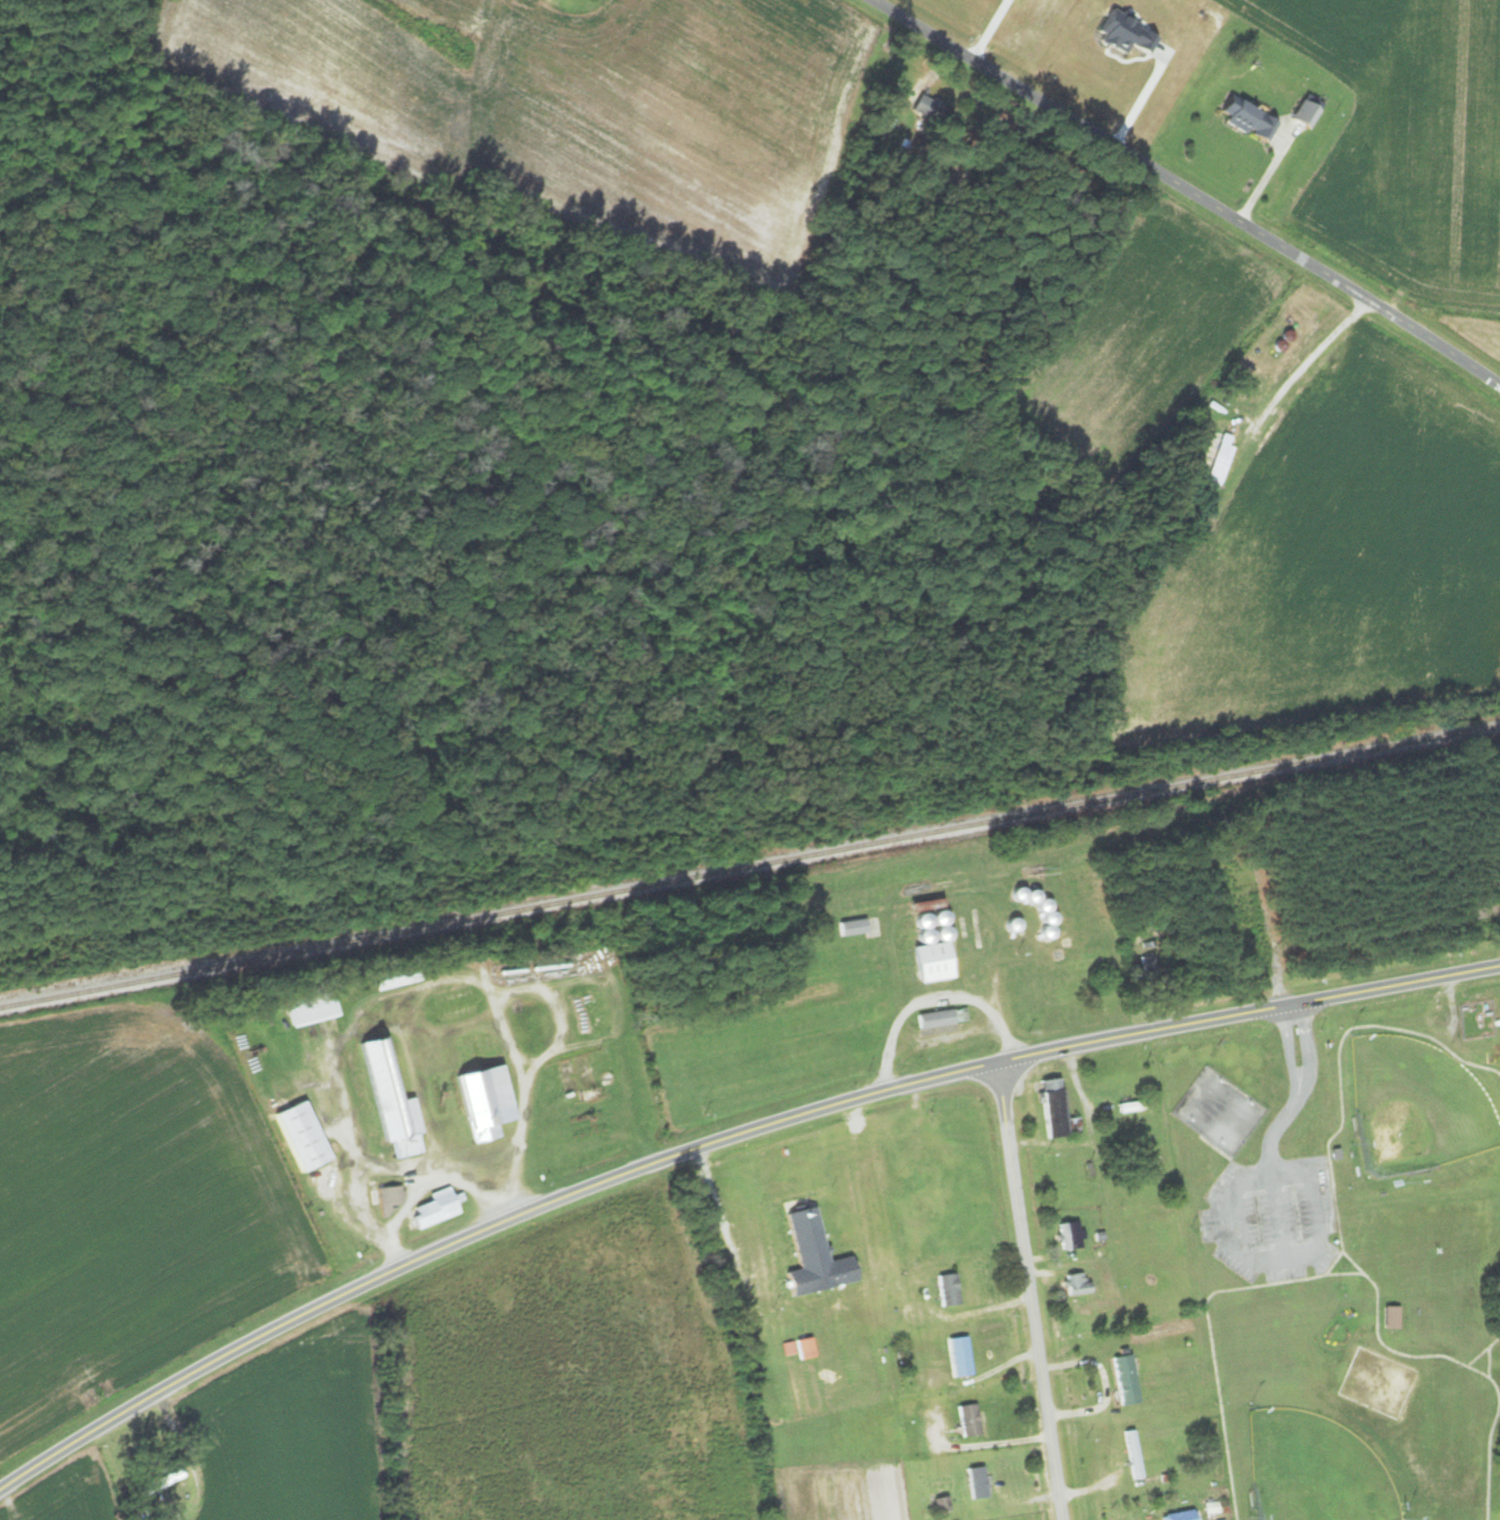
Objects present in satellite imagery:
building: (541, 0)
building: (925, 110)
building: (1297, 115)
building: (1241, 119)
road: (1181, 195)
building: (1213, 463)
railway: (750, 866)
building: (850, 927)
road: (1350, 930)
building: (1245, 950)
building: (923, 956)
building: (1143, 966)
building: (1084, 967)
road: (1348, 991)
building: (459, 1004)
building: (315, 1010)
building: (593, 1013)
road: (1161, 1025)
building: (536, 1029)
building: (480, 1050)
road: (1074, 1073)
building: (394, 1101)
building: (491, 1102)
building: (1127, 1107)
building: (1049, 1111)
building: (307, 1137)
building: (393, 1197)
road: (541, 1206)
building: (440, 1208)
building: (1139, 1210)
building: (1149, 1234)
building: (1063, 1237)
building: (805, 1257)
building: (1070, 1284)
road: (1029, 1289)
building: (942, 1291)
building: (794, 1349)
building: (954, 1357)
building: (1119, 1380)
building: (962, 1421)
building: (1128, 1455)
building: (177, 1475)
building: (970, 1484)
building: (936, 1505)
building: (1173, 1516)

